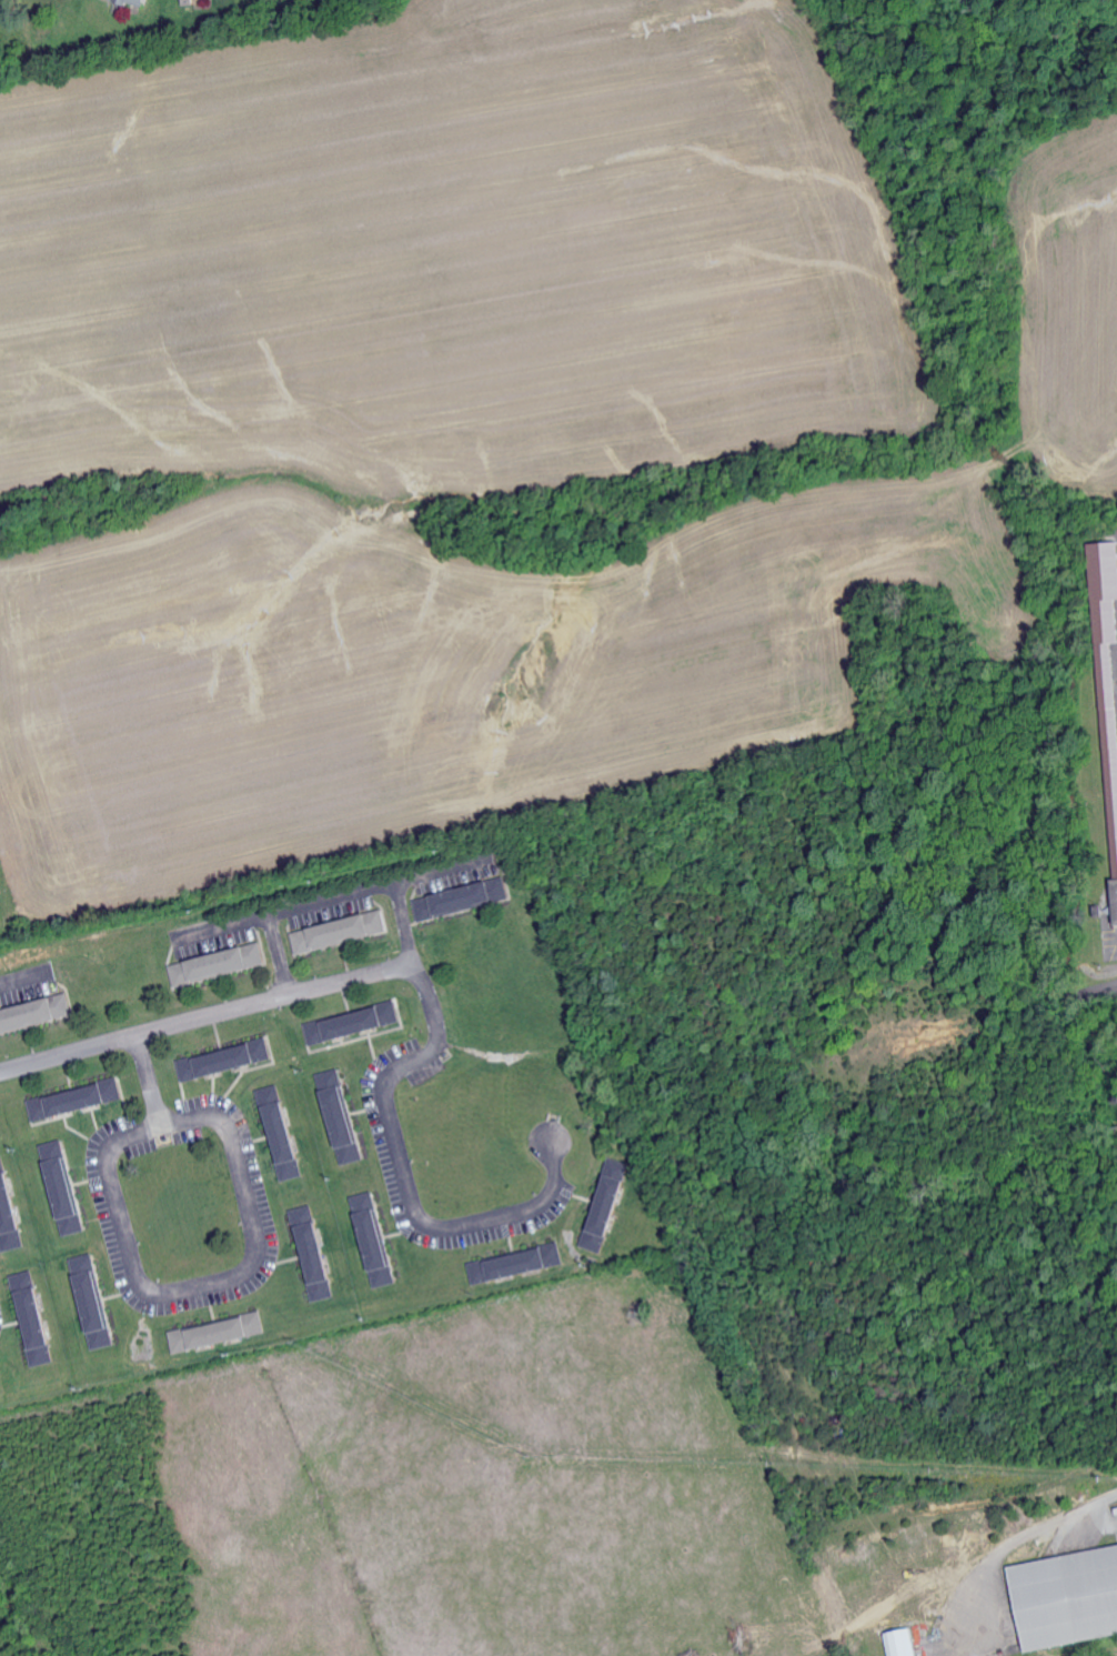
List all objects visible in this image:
building: (198, 1)
building: (142, 2)
building: (1108, 670)
building: (462, 899)
road: (328, 901)
road: (404, 927)
building: (341, 932)
road: (276, 957)
building: (219, 964)
road: (21, 978)
road: (427, 985)
road: (1108, 986)
building: (32, 1012)
building: (354, 1023)
building: (225, 1058)
building: (76, 1098)
building: (343, 1115)
building: (283, 1130)
building: (62, 1186)
building: (610, 1204)
building: (8, 1211)
building: (375, 1238)
building: (315, 1251)
building: (519, 1263)
road: (173, 1289)
building: (92, 1299)
building: (32, 1315)
building: (218, 1332)
building: (0, 1393)
road: (1111, 1503)
building: (1066, 1597)
building: (902, 1643)

